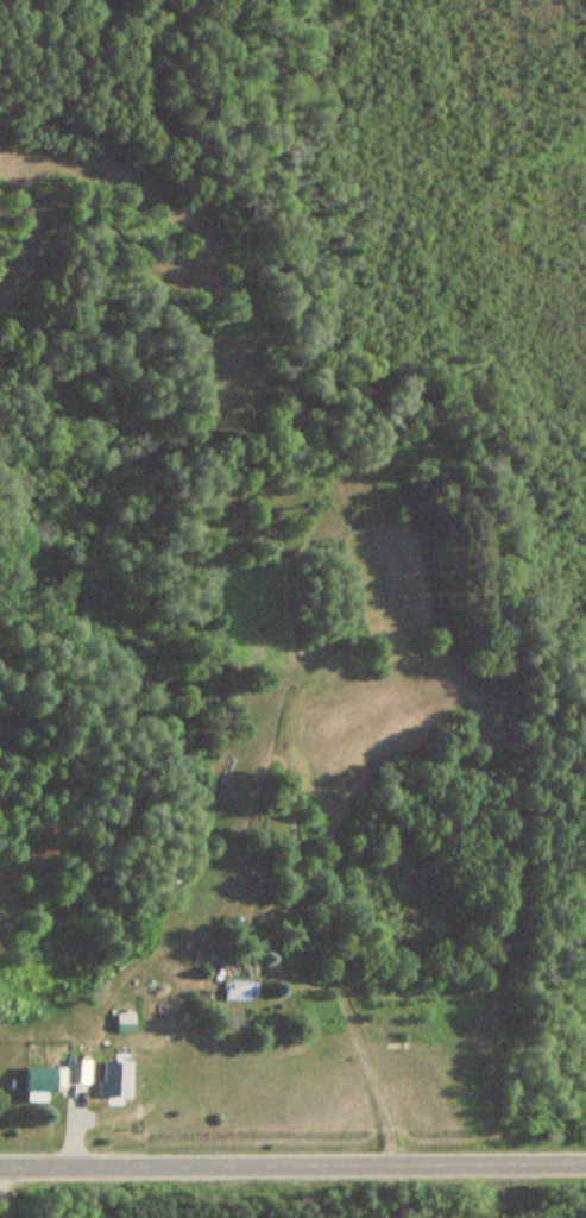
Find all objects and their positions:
building: (76, 1072)
building: (40, 1084)
road: (292, 1166)

